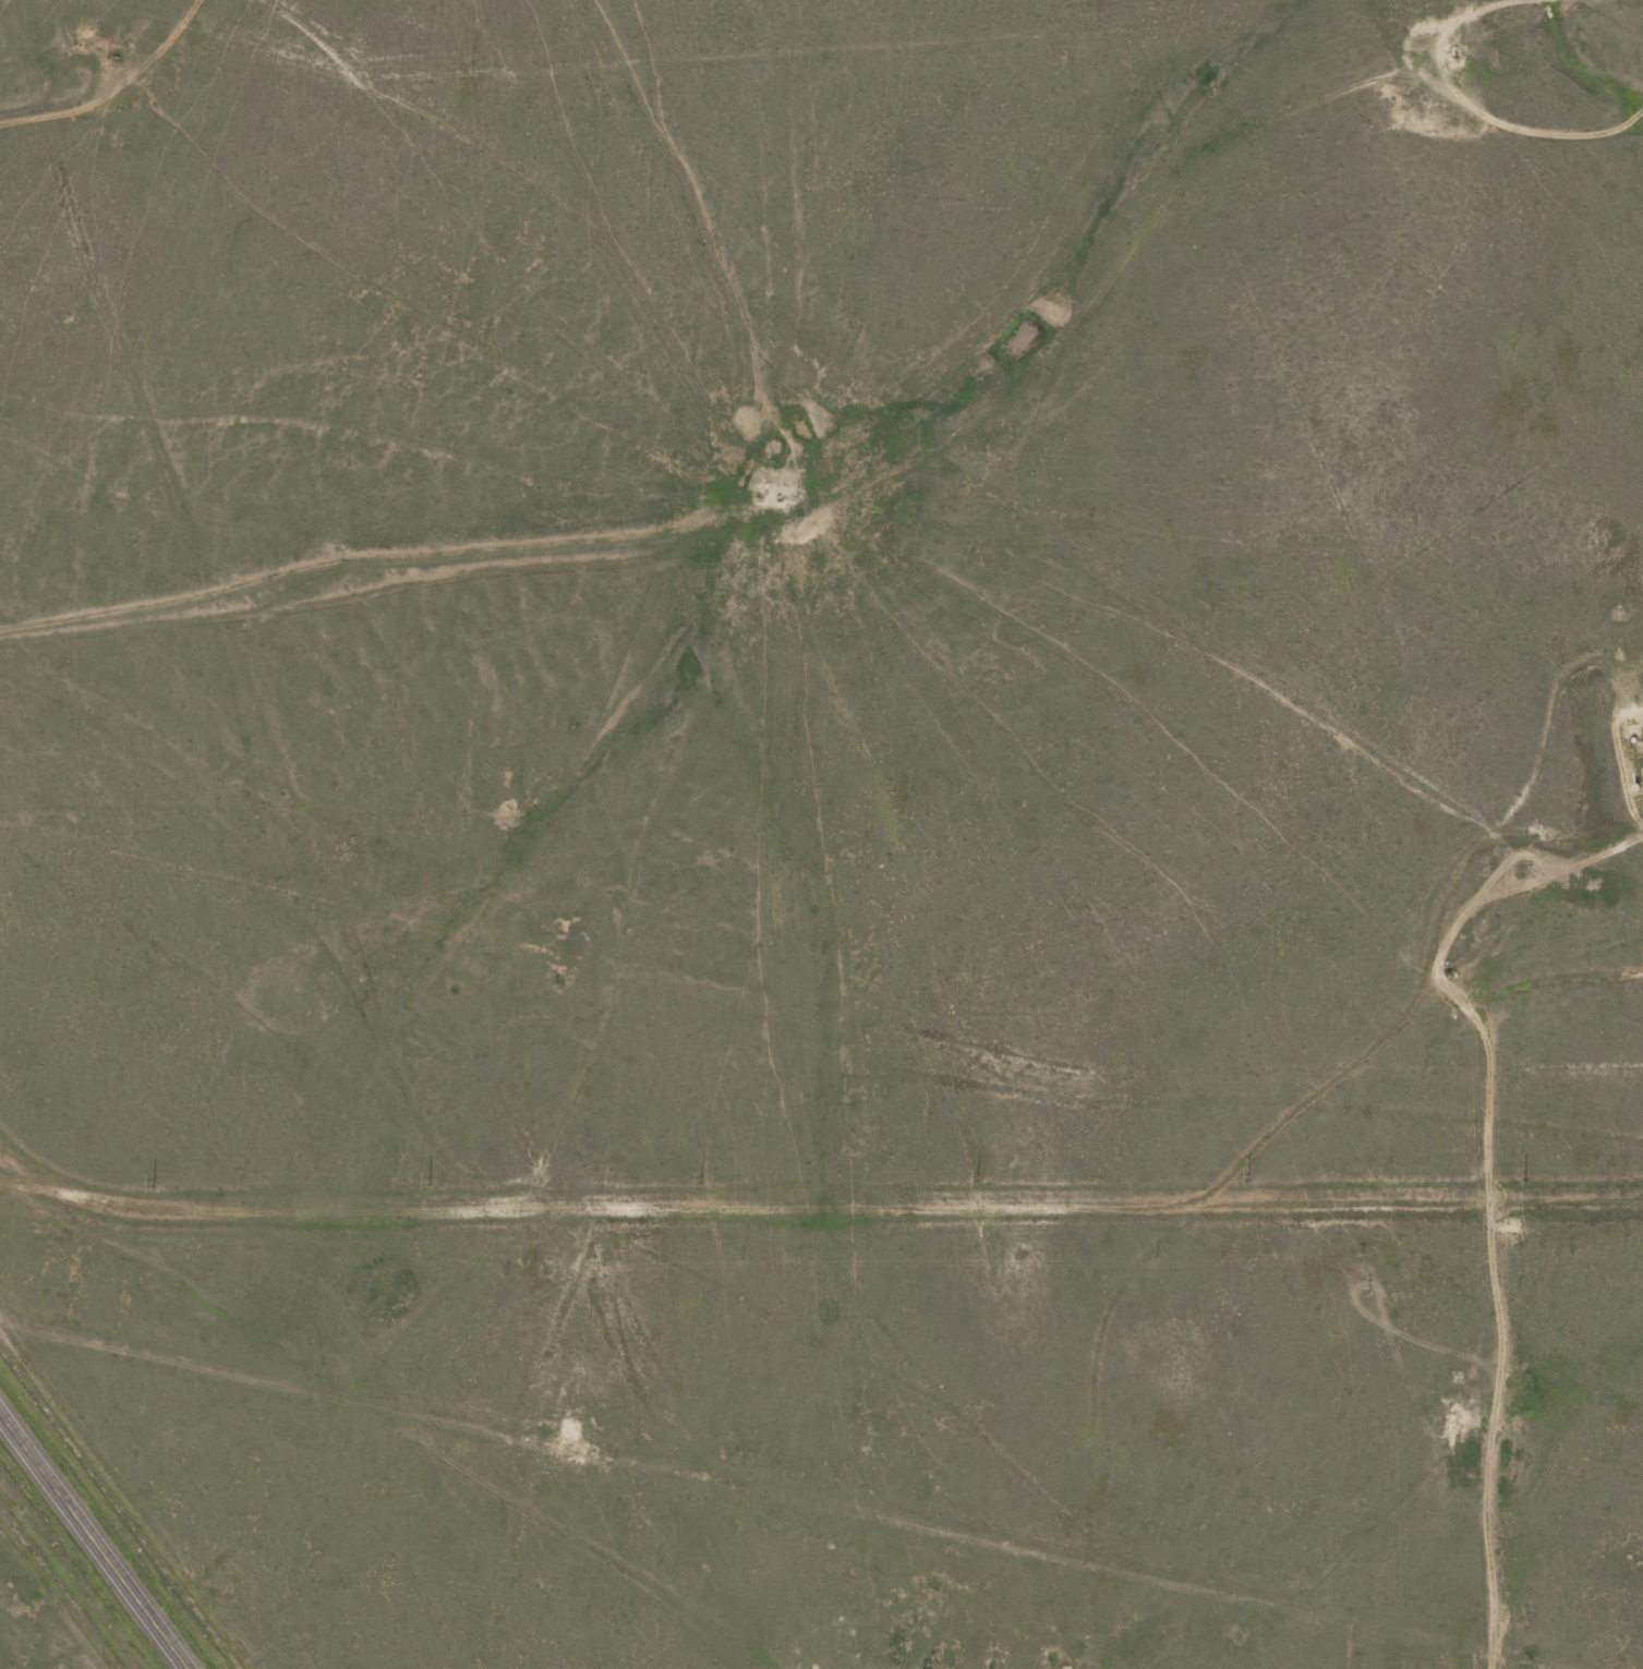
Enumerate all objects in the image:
power tower: (1521, 1173)
power tower: (1247, 1175)
power tower: (699, 1177)
power tower: (976, 1177)
power tower: (426, 1178)
power tower: (152, 1182)
road: (96, 1538)

